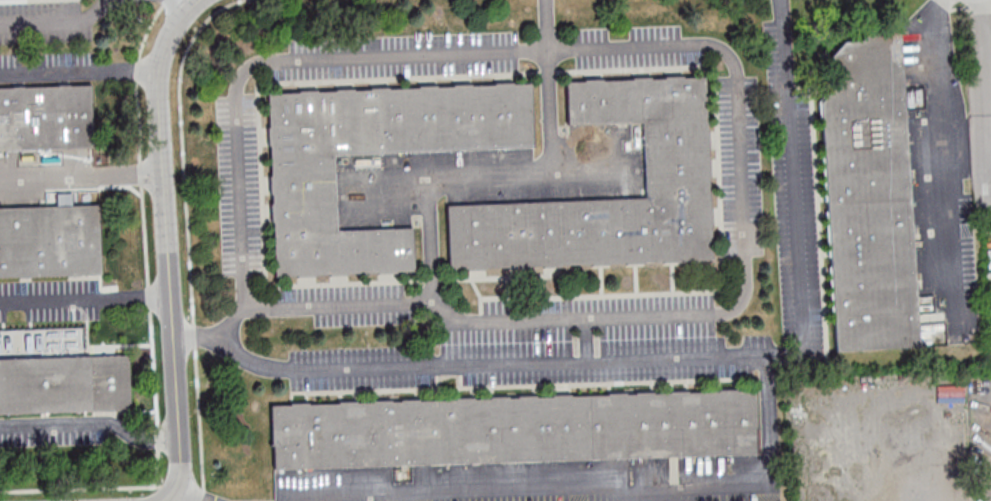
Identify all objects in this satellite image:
road: (181, 7)
road: (58, 19)
road: (986, 19)
road: (543, 25)
road: (989, 38)
road: (84, 68)
road: (735, 83)
road: (987, 94)
building: (46, 116)
road: (944, 146)
building: (678, 161)
road: (83, 174)
road: (492, 179)
building: (302, 189)
building: (869, 197)
building: (50, 240)
road: (170, 246)
road: (86, 296)
road: (465, 365)
building: (66, 383)
road: (93, 420)
building: (513, 429)
road: (766, 466)
road: (189, 497)

